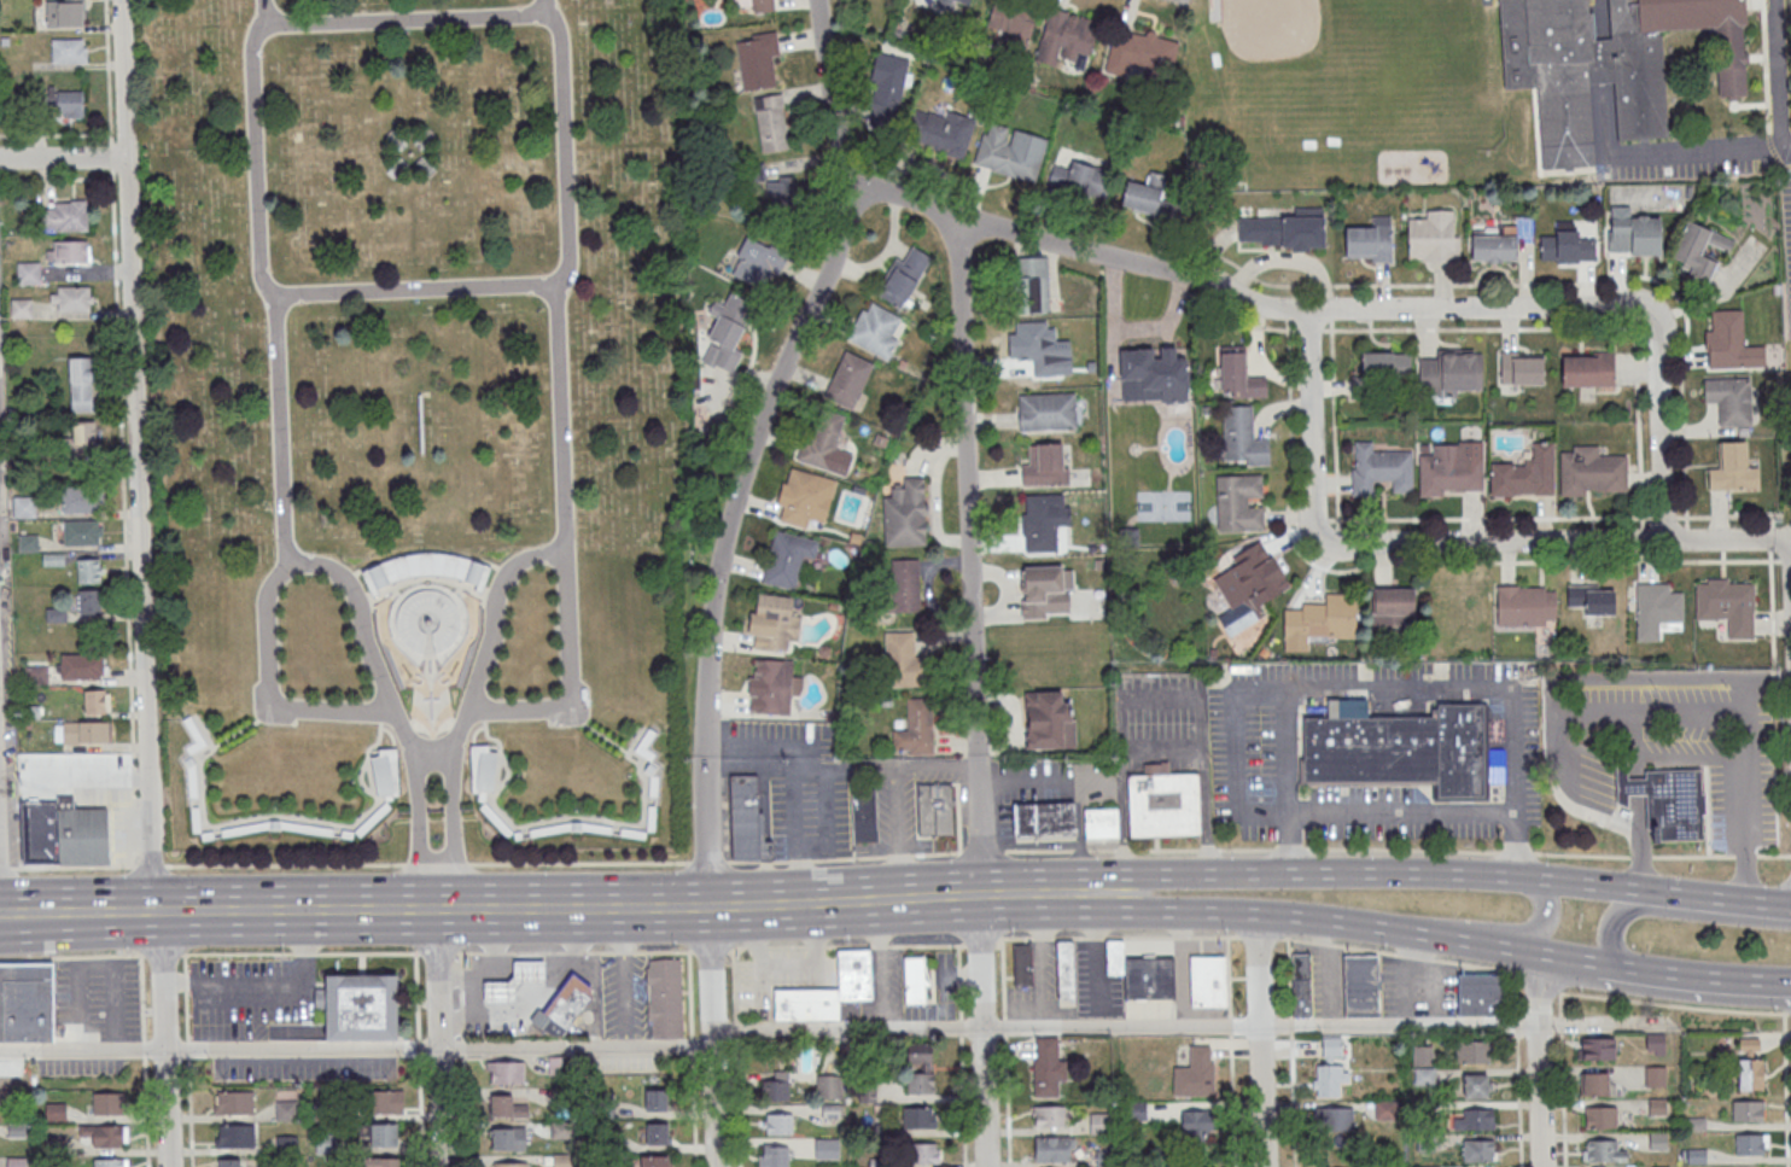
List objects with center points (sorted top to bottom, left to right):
building: (963, 1)
building: (944, 2)
road: (543, 6)
building: (763, 6)
road: (266, 8)
building: (64, 12)
road: (1600, 19)
building: (1014, 21)
building: (1064, 36)
building: (69, 49)
building: (757, 60)
building: (1144, 60)
road: (1604, 62)
building: (1610, 64)
road: (1775, 75)
building: (887, 89)
building: (69, 103)
building: (771, 123)
building: (941, 132)
building: (1011, 152)
road: (1662, 152)
road: (62, 158)
parking lot: (1705, 174)
building: (1081, 180)
building: (781, 191)
building: (1151, 204)
building: (63, 215)
building: (1287, 231)
building: (1634, 234)
building: (1434, 238)
building: (1371, 240)
building: (1567, 244)
building: (1495, 250)
building: (1699, 250)
building: (68, 251)
road: (565, 251)
building: (759, 262)
building: (28, 273)
building: (903, 278)
building: (1031, 285)
building: (71, 298)
road: (1347, 308)
building: (876, 331)
building: (727, 332)
building: (1731, 343)
building: (1035, 346)
building: (1522, 369)
building: (1589, 370)
building: (1378, 372)
building: (1157, 373)
building: (1451, 373)
building: (1239, 374)
building: (848, 380)
building: (81, 384)
building: (1731, 401)
building: (1048, 413)
park: (415, 419)
road: (121, 432)
building: (1243, 437)
road: (751, 444)
building: (826, 444)
building: (80, 447)
building: (1043, 463)
building: (1381, 469)
building: (1452, 469)
building: (1733, 469)
building: (1592, 472)
building: (1524, 474)
building: (806, 497)
building: (78, 498)
building: (1239, 503)
building: (23, 506)
building: (906, 514)
building: (1042, 523)
building: (82, 531)
road: (561, 541)
road: (1441, 541)
road: (284, 554)
road: (968, 554)
building: (788, 559)
building: (89, 570)
road: (141, 583)
building: (906, 584)
building: (1252, 584)
building: (1046, 590)
building: (1592, 600)
building: (89, 601)
building: (1394, 605)
building: (1525, 606)
building: (1728, 606)
building: (1657, 609)
building: (1323, 619)
building: (428, 622)
building: (774, 623)
building: (905, 661)
building: (80, 665)
road: (1715, 673)
road: (567, 677)
road: (1402, 681)
building: (771, 688)
road: (269, 694)
road: (1157, 696)
building: (97, 701)
road: (1668, 704)
building: (1049, 720)
building: (917, 728)
building: (82, 731)
road: (1237, 742)
road: (432, 747)
building: (1401, 749)
road: (1673, 754)
road: (1639, 757)
road: (840, 765)
building: (483, 769)
building: (384, 774)
road: (92, 777)
road: (1048, 778)
road: (1639, 782)
building: (1665, 801)
building: (1163, 806)
building: (863, 809)
road: (1404, 809)
building: (933, 810)
building: (745, 817)
building: (1044, 821)
building: (1101, 823)
road: (416, 828)
road: (454, 828)
building: (40, 832)
building: (81, 833)
road: (1079, 833)
road: (1639, 844)
road: (1396, 848)
road: (981, 850)
road: (480, 863)
road: (1331, 874)
road: (1002, 895)
road: (1713, 900)
road: (841, 901)
road: (571, 908)
road: (1670, 911)
road: (217, 912)
road: (1545, 920)
road: (1322, 922)
road: (183, 932)
road: (1118, 936)
road: (1259, 936)
road: (981, 941)
road: (850, 945)
road: (594, 951)
road: (436, 952)
road: (280, 953)
road: (1398, 955)
building: (1114, 956)
road: (71, 957)
road: (185, 961)
road: (978, 962)
building: (1022, 964)
building: (1064, 969)
road: (707, 971)
building: (856, 975)
building: (1149, 976)
road: (438, 978)
road: (1003, 978)
road: (1518, 978)
building: (914, 979)
building: (514, 980)
building: (1207, 980)
road: (1702, 980)
road: (186, 981)
road: (958, 981)
road: (734, 984)
building: (1301, 984)
road: (1539, 984)
building: (1360, 985)
parking lot: (101, 986)
road: (272, 987)
road: (689, 993)
building: (1481, 993)
road: (416, 994)
parking lot: (240, 996)
road: (461, 996)
parking lot: (624, 996)
building: (664, 997)
building: (25, 1002)
building: (562, 1004)
building: (806, 1004)
road: (1673, 1005)
building: (358, 1006)
road: (1790, 1014)
road: (1325, 1023)
road: (959, 1026)
road: (734, 1027)
road: (1004, 1027)
road: (144, 1040)
road: (1259, 1040)
building: (1655, 1044)
road: (690, 1045)
road: (419, 1046)
road: (462, 1046)
road: (491, 1046)
building: (1748, 1046)
building: (1597, 1048)
road: (1230, 1051)
road: (1291, 1051)
building: (1471, 1051)
road: (576, 1056)
building: (1422, 1056)
road: (1538, 1058)
parking lot: (80, 1064)
building: (1046, 1066)
parking lot: (304, 1067)
building: (920, 1067)
building: (1330, 1069)
road: (1518, 1070)
building: (504, 1072)
building: (1750, 1074)
building: (16, 1075)
building: (1655, 1075)
road: (187, 1078)
road: (1562, 1079)
building: (1595, 1084)
building: (1476, 1085)
building: (775, 1086)
building: (828, 1086)
road: (1785, 1090)
road: (982, 1097)
building: (655, 1099)
building: (381, 1101)
road: (735, 1101)
road: (962, 1101)
road: (1005, 1101)
building: (107, 1102)
building: (234, 1102)
road: (712, 1102)
road: (442, 1107)
building: (506, 1107)
building: (56, 1110)
building: (286, 1110)
road: (420, 1110)
road: (463, 1110)
road: (692, 1110)
building: (1748, 1110)
building: (1049, 1115)
building: (920, 1116)
building: (1599, 1116)
building: (1334, 1119)
building: (1474, 1119)
building: (1101, 1122)
building: (777, 1124)
building: (1196, 1125)
building: (657, 1132)
building: (104, 1134)
building: (383, 1134)
building: (234, 1136)
building: (508, 1138)
building: (1750, 1144)
building: (826, 1148)
building: (1054, 1148)
building: (1478, 1150)
building: (1603, 1150)
building: (924, 1153)
building: (774, 1155)
building: (559, 1160)
building: (654, 1161)
building: (16, 1162)
building: (109, 1162)
building: (228, 1162)
building: (383, 1162)
building: (511, 1165)

